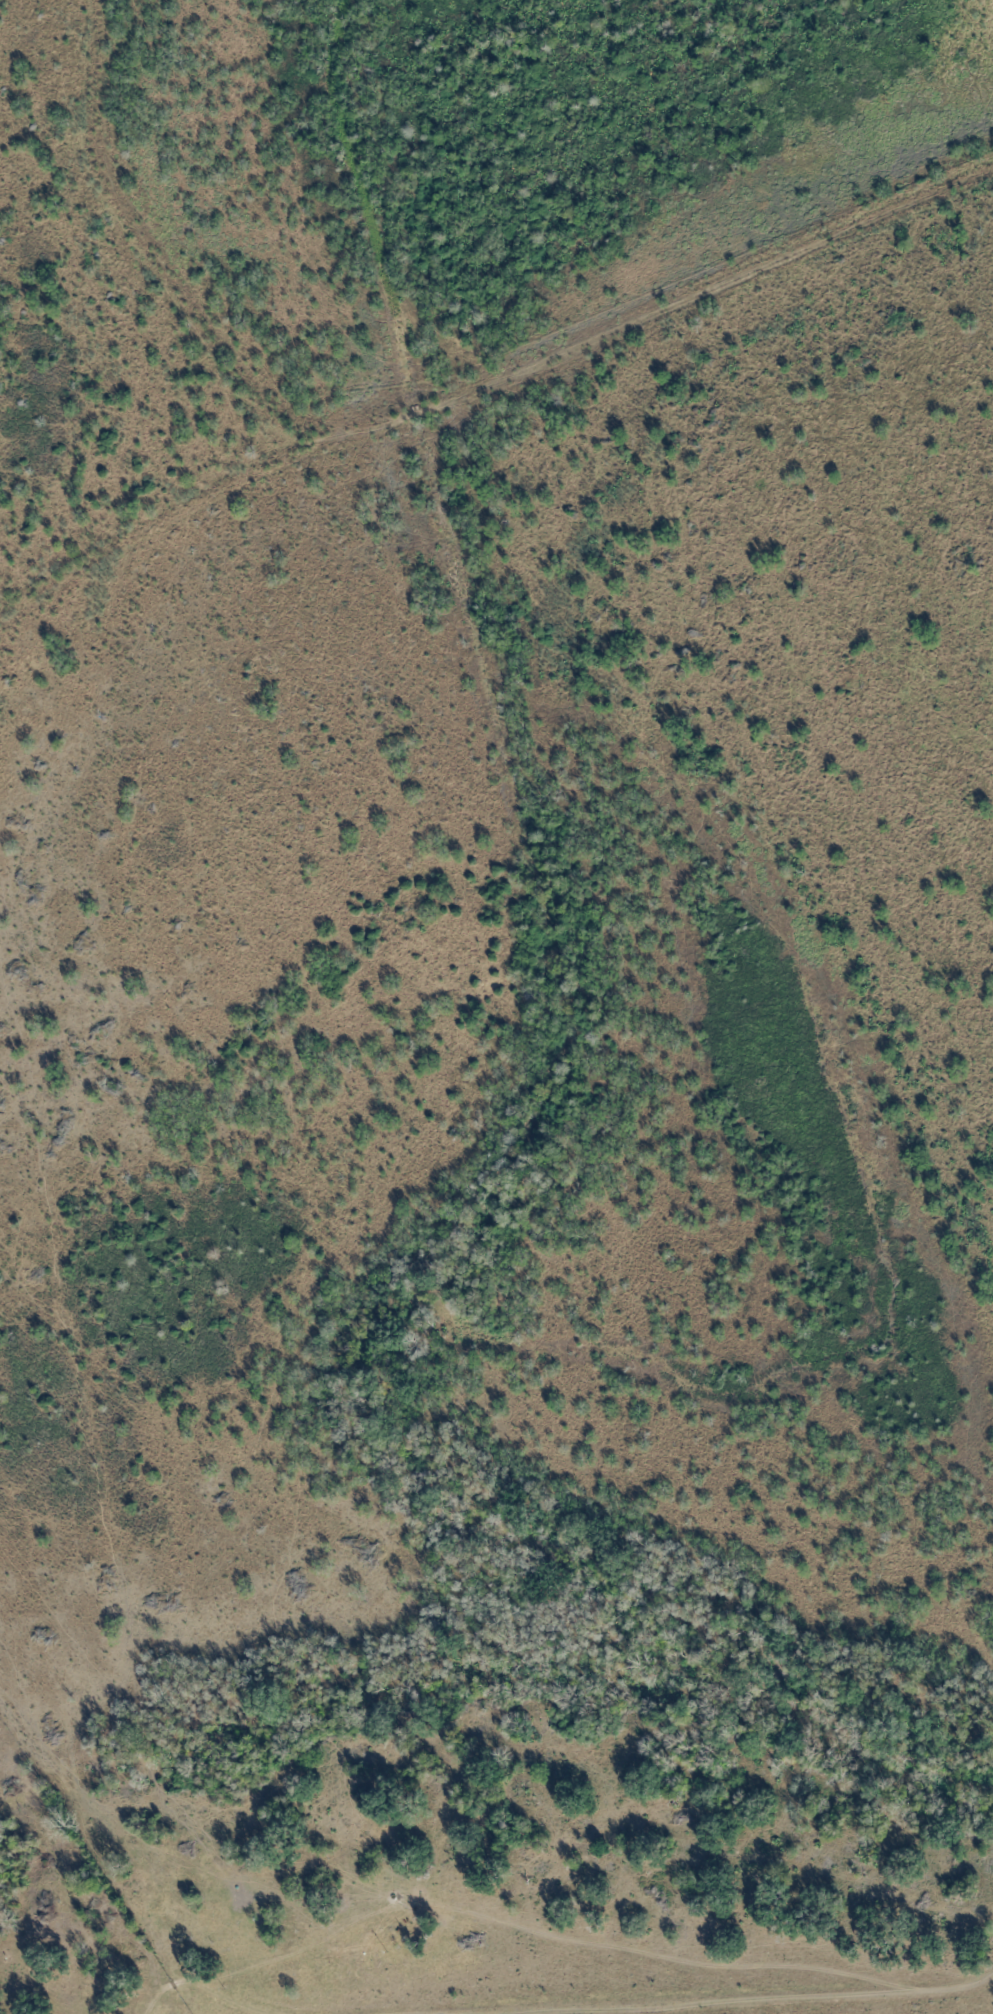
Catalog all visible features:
road: (932, 2000)

